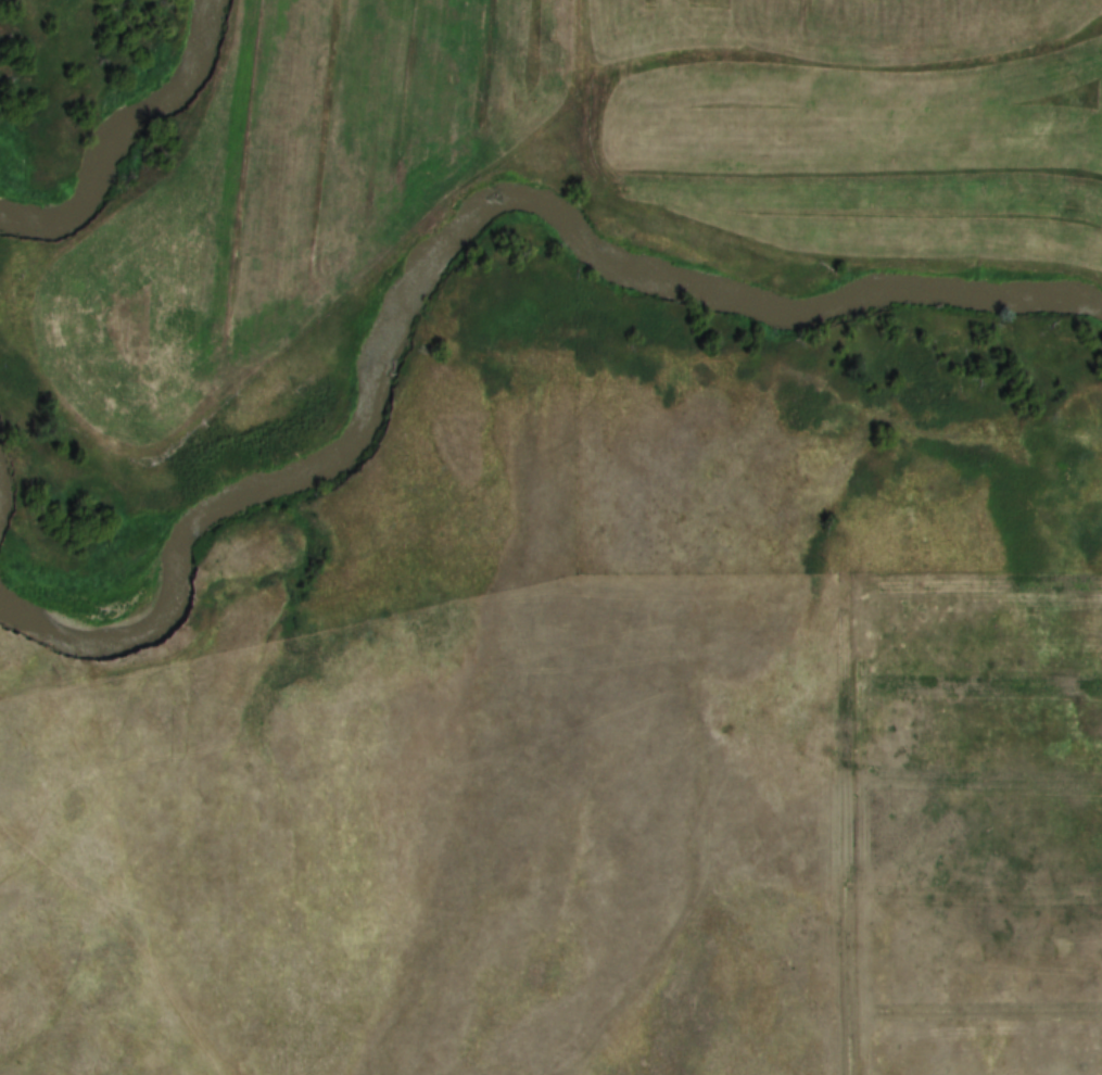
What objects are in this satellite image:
river: (121, 135)
river: (464, 226)

